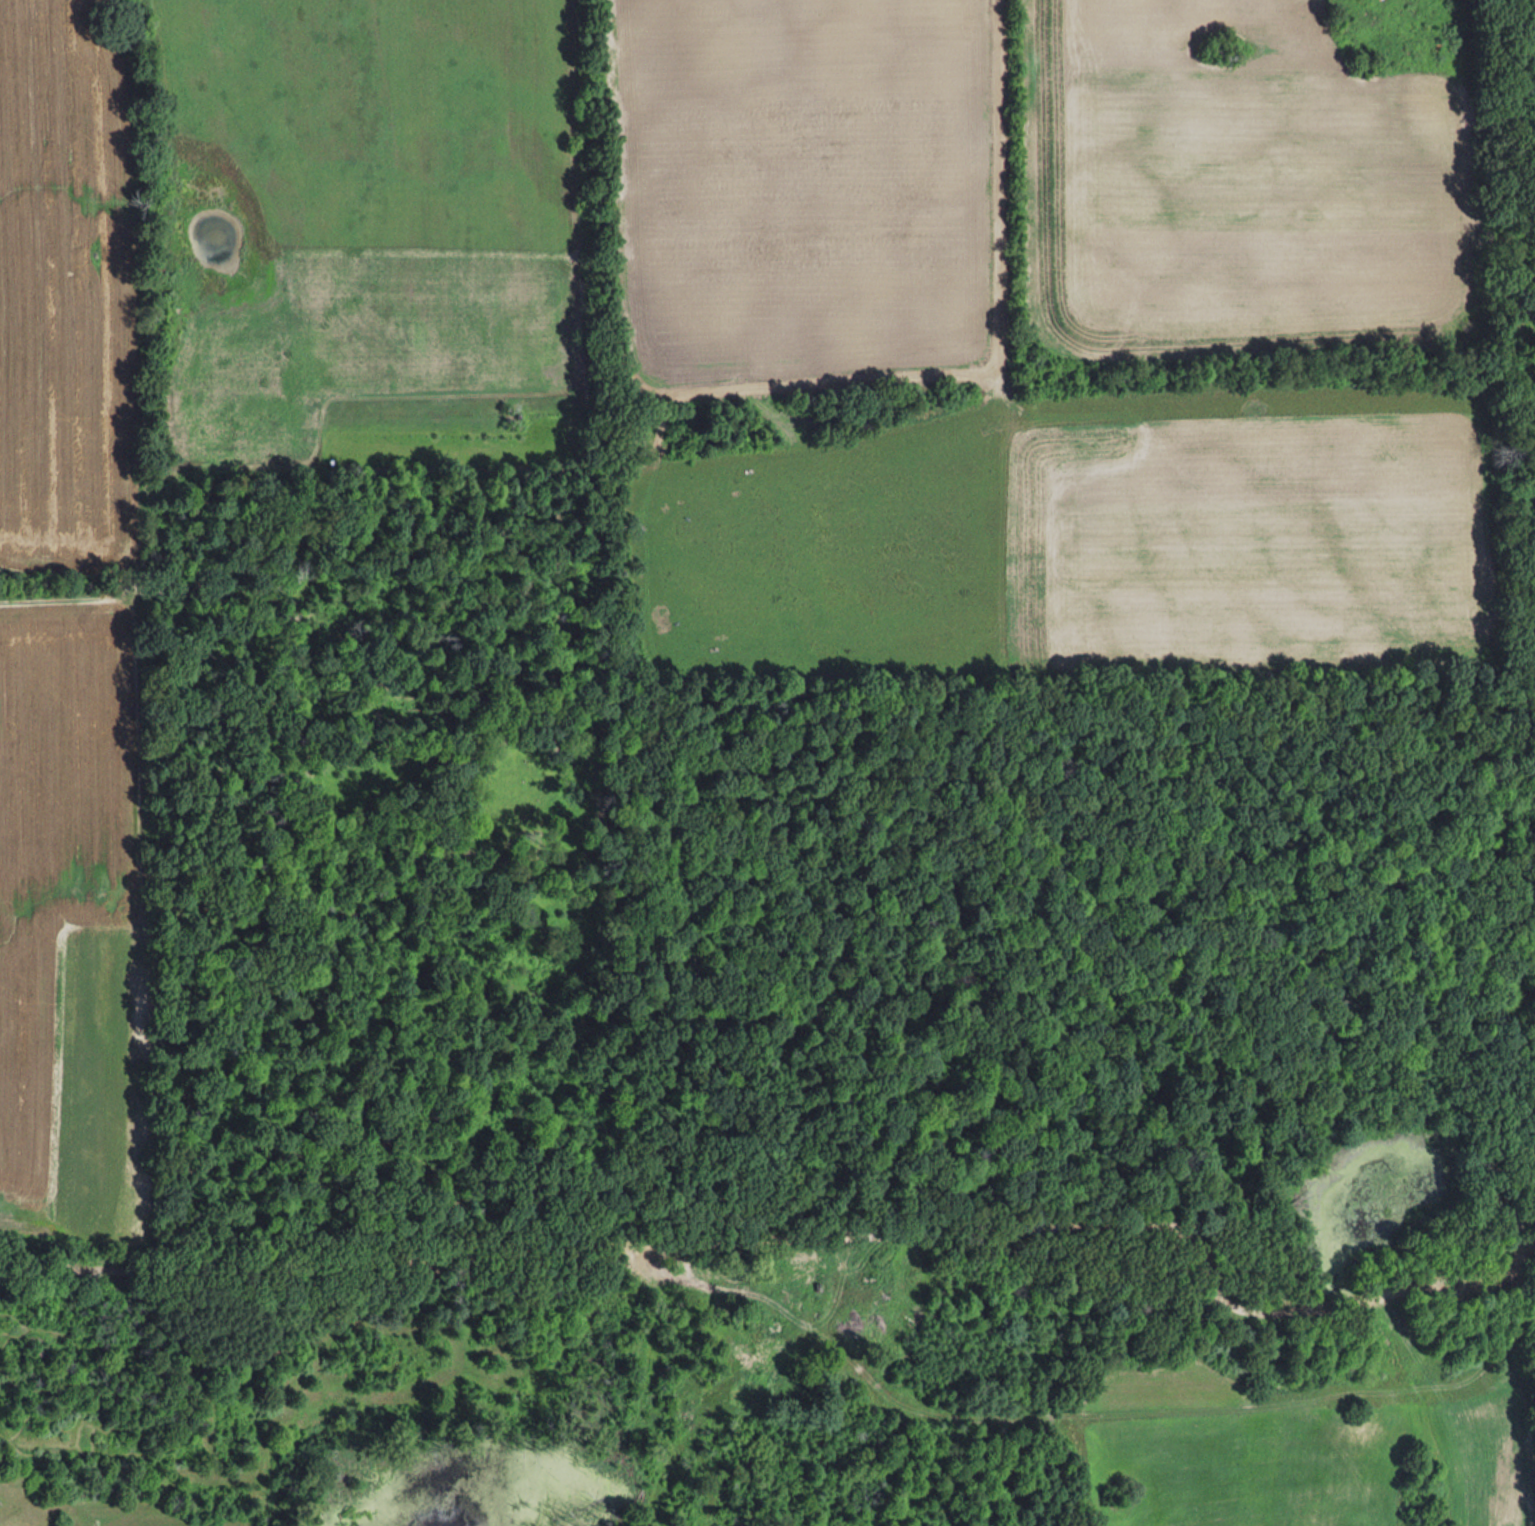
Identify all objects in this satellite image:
road: (404, 1259)

